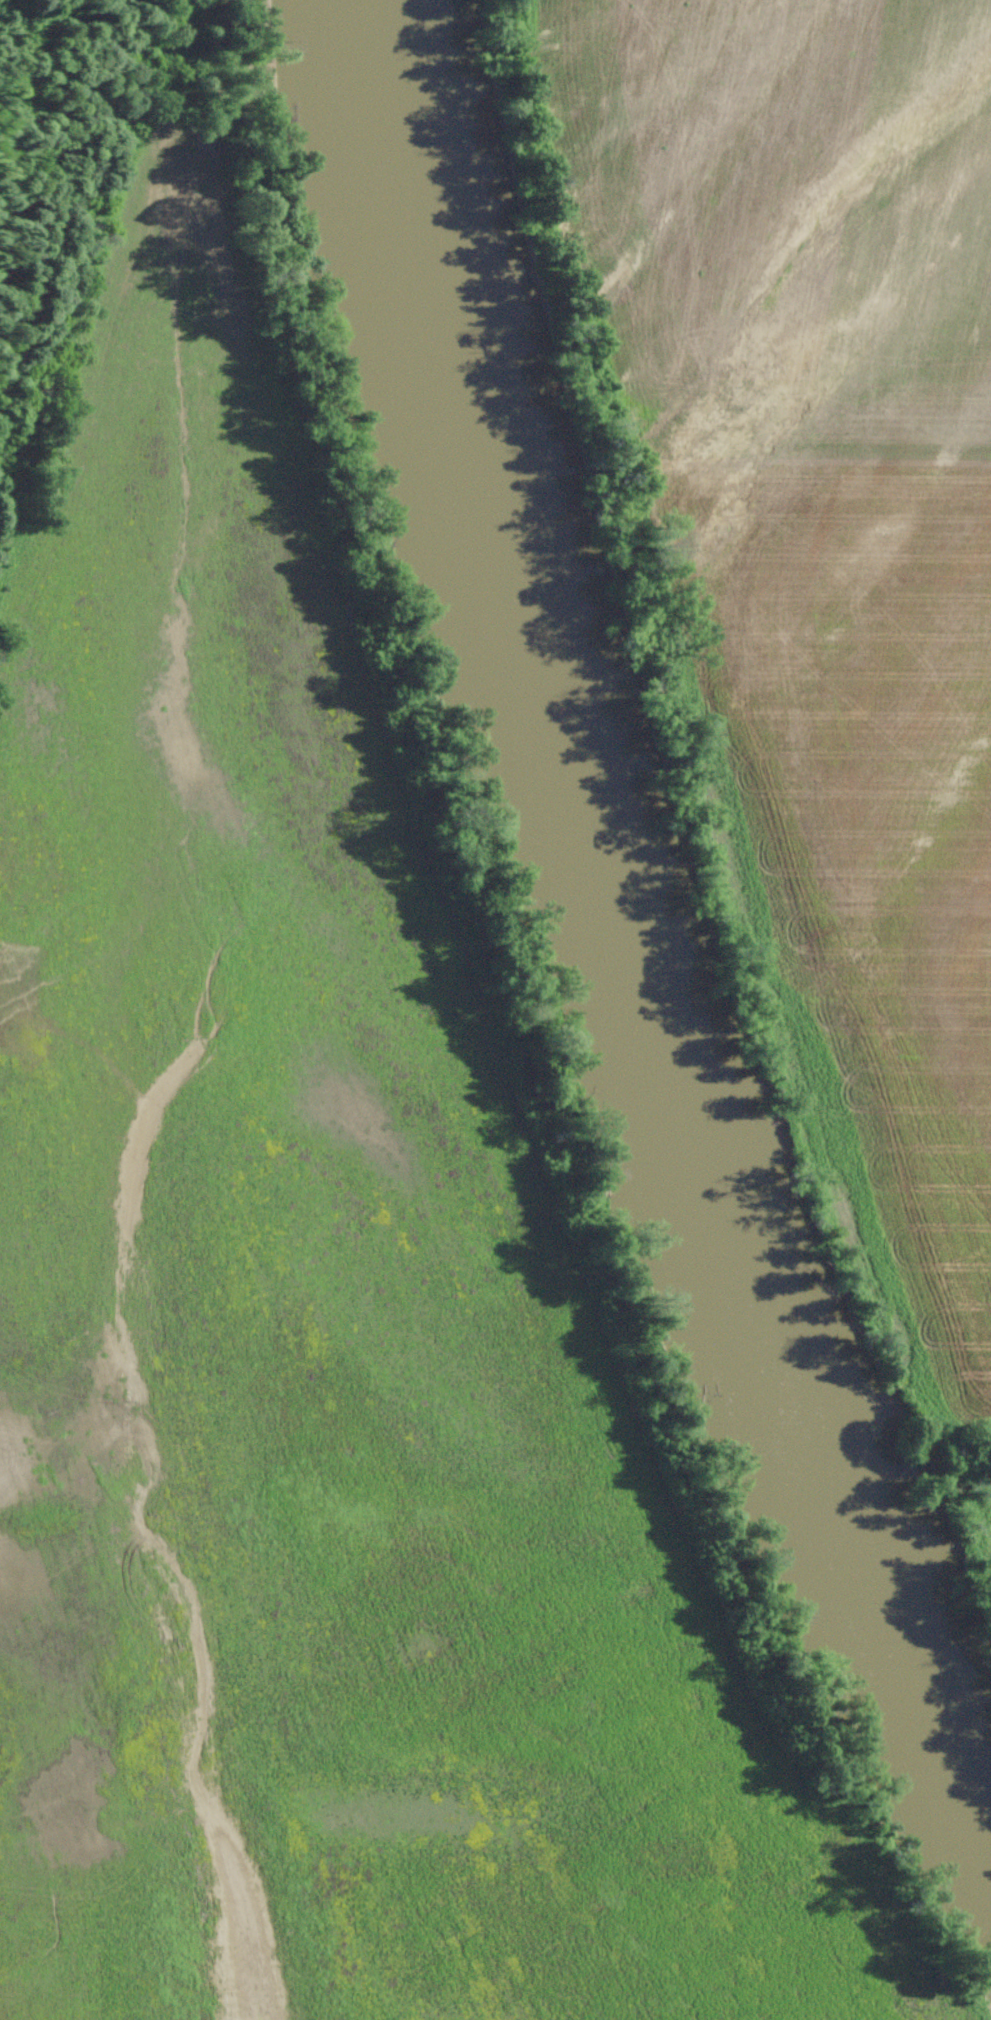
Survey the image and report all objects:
river: (611, 939)
road: (49, 1932)

